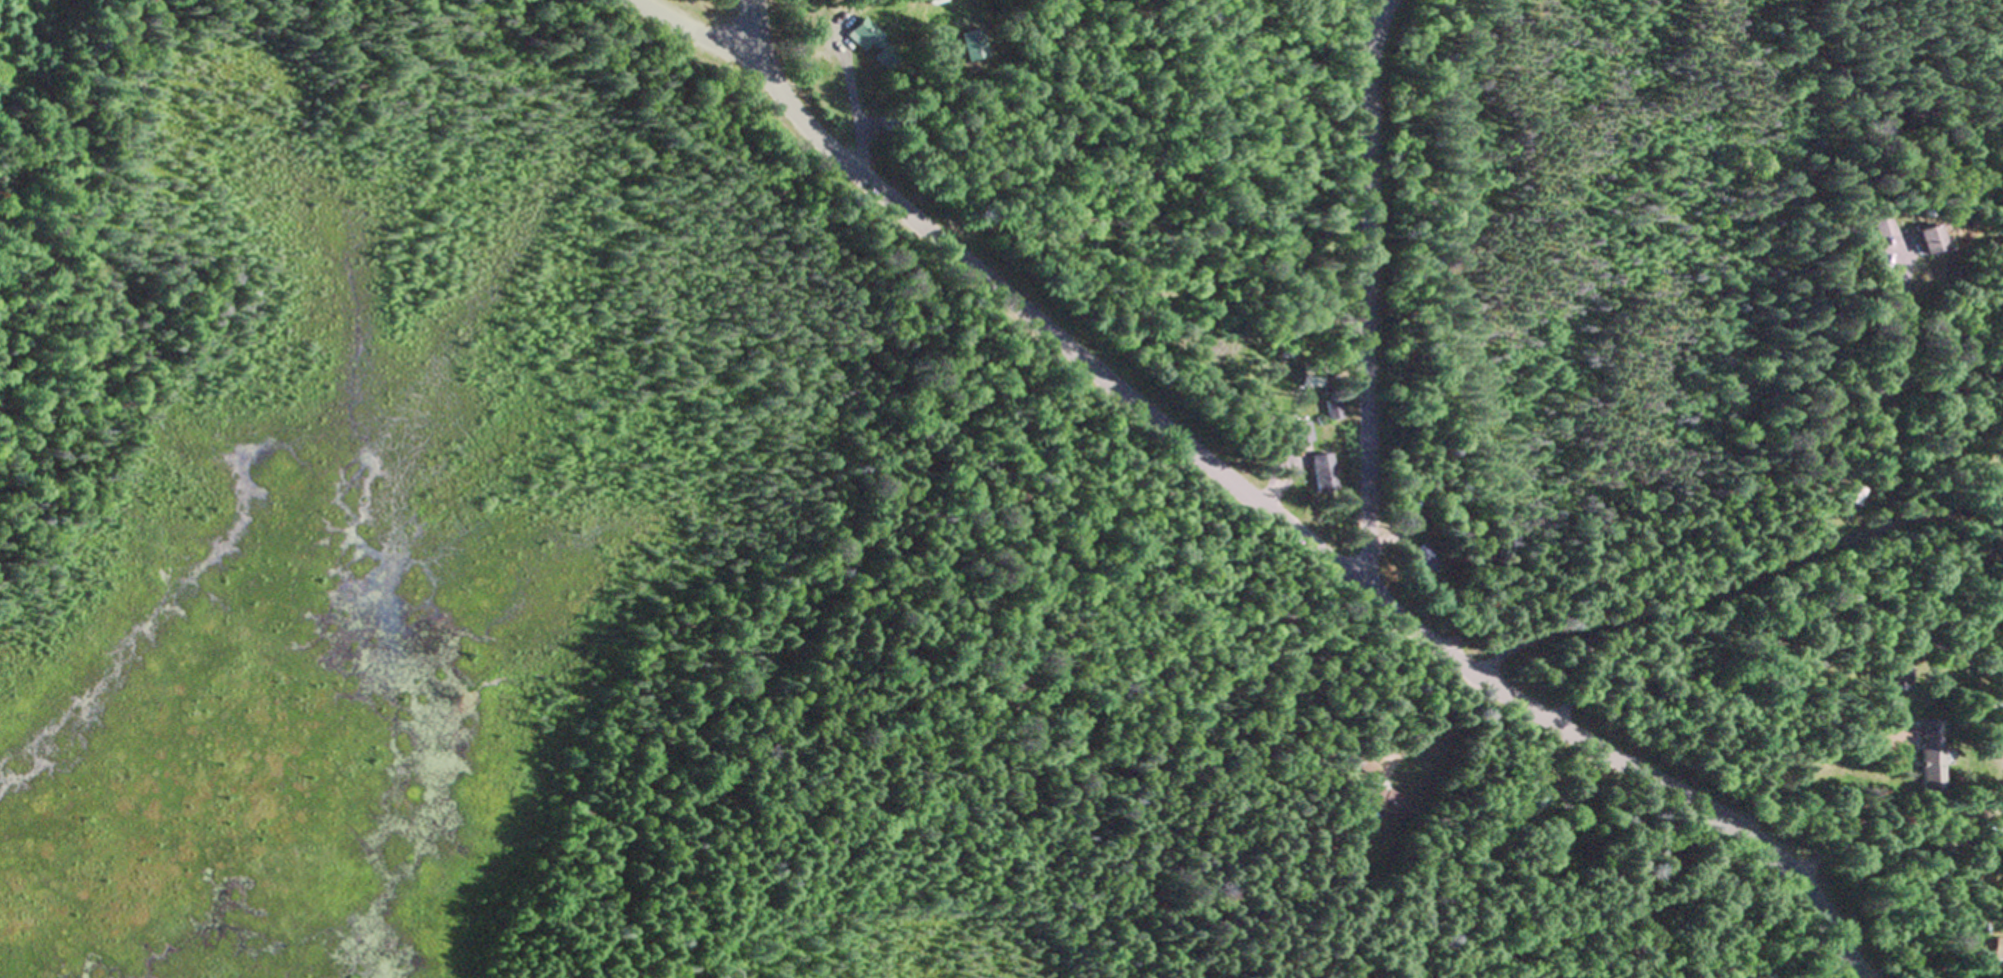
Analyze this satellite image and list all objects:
road: (687, 31)
building: (873, 44)
building: (1882, 226)
building: (1930, 241)
road: (1369, 292)
building: (1333, 410)
building: (1301, 432)
building: (1323, 473)
building: (1853, 496)
road: (1276, 517)
building: (1422, 561)
road: (1711, 585)
building: (1993, 609)
road: (1772, 657)
building: (1931, 757)
building: (1386, 804)
building: (1996, 835)
building: (1997, 950)

